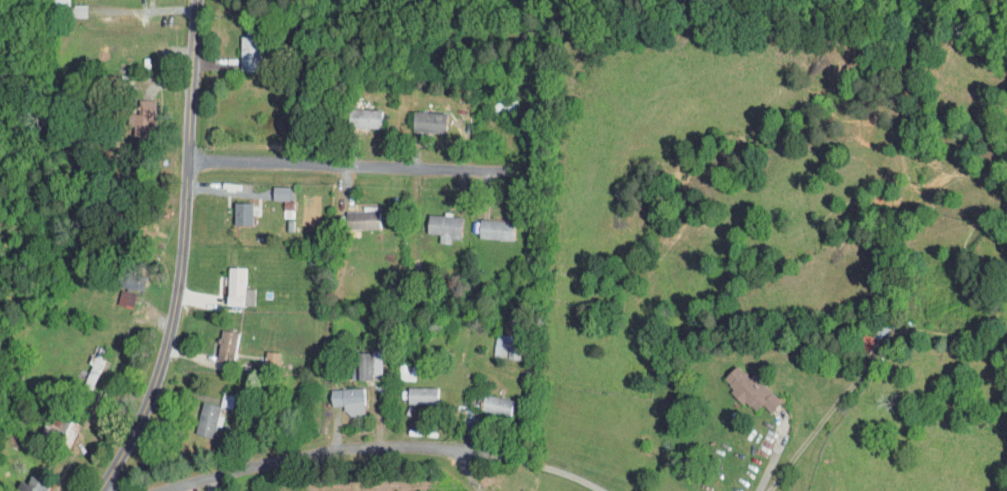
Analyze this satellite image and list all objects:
building: (67, 5)
building: (236, 48)
building: (351, 112)
building: (130, 113)
building: (416, 116)
road: (368, 168)
building: (267, 188)
building: (229, 208)
building: (431, 222)
building: (483, 224)
road: (186, 253)
building: (121, 275)
building: (223, 281)
building: (113, 294)
building: (214, 341)
building: (494, 341)
building: (259, 354)
building: (354, 360)
building: (83, 363)
building: (738, 385)
building: (410, 390)
building: (335, 395)
building: (484, 400)
building: (195, 414)
building: (50, 423)
road: (340, 452)
road: (767, 472)
road: (561, 473)
building: (19, 482)

